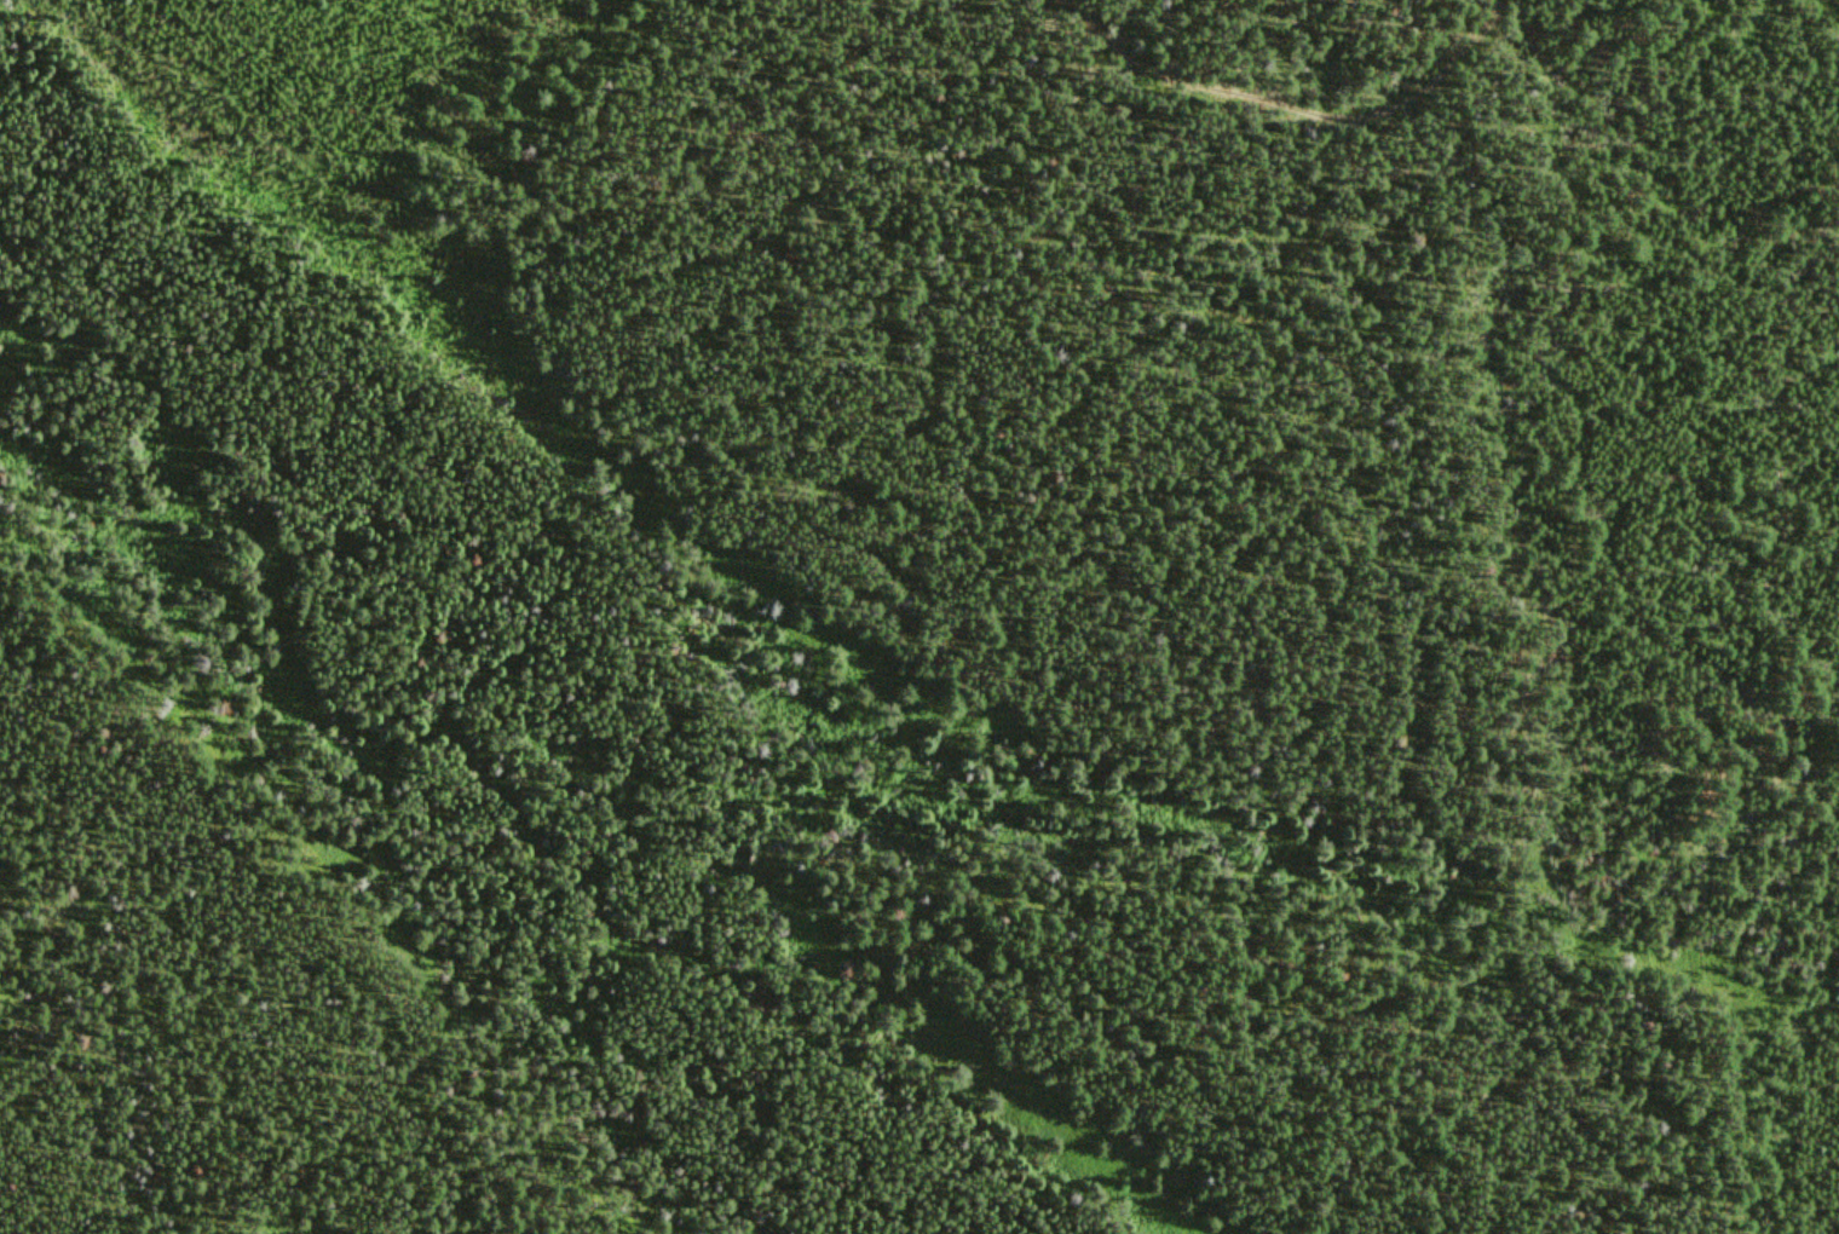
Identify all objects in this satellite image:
road: (1282, 104)

